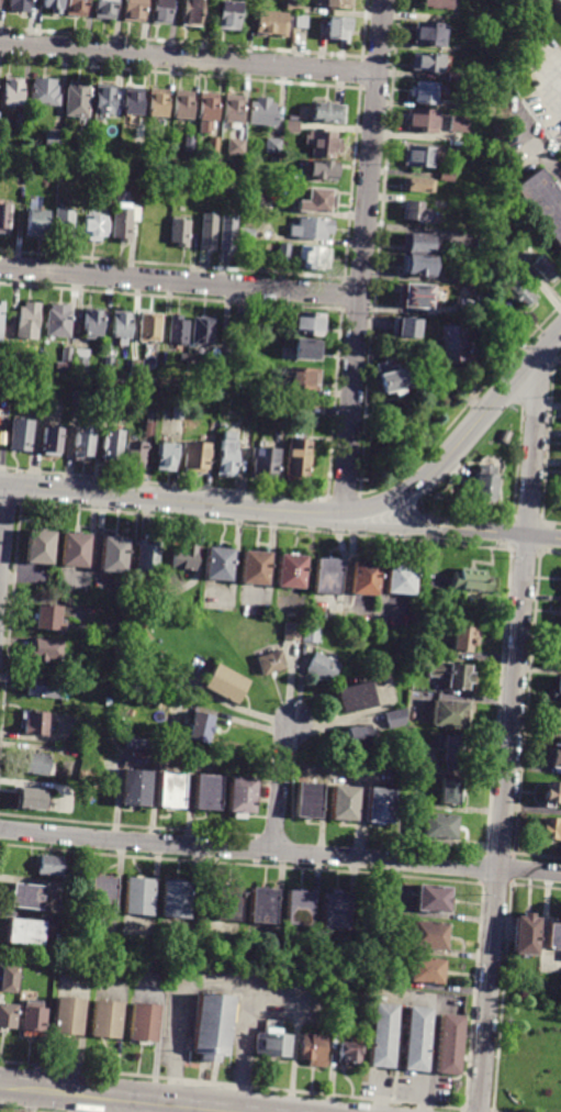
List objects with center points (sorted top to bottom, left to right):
building: (560, 0)
building: (334, 4)
building: (437, 4)
building: (53, 5)
building: (289, 5)
building: (20, 7)
building: (77, 8)
building: (104, 9)
building: (133, 10)
building: (160, 12)
building: (190, 13)
building: (229, 15)
building: (278, 23)
building: (339, 31)
building: (429, 35)
road: (188, 58)
building: (429, 65)
building: (455, 77)
building: (12, 92)
building: (45, 93)
building: (425, 94)
building: (78, 100)
building: (103, 100)
building: (158, 102)
building: (132, 103)
building: (182, 103)
building: (453, 105)
road: (550, 107)
building: (233, 108)
building: (262, 111)
building: (207, 112)
building: (330, 112)
building: (291, 118)
building: (21, 122)
building: (423, 122)
building: (458, 124)
building: (292, 126)
building: (53, 138)
building: (326, 142)
building: (188, 143)
building: (83, 144)
building: (214, 145)
building: (272, 146)
building: (235, 147)
building: (453, 152)
building: (419, 158)
building: (273, 159)
road: (552, 166)
building: (323, 169)
building: (448, 178)
building: (419, 187)
building: (110, 189)
building: (194, 190)
building: (122, 194)
building: (250, 201)
building: (318, 201)
building: (542, 203)
building: (441, 205)
building: (417, 213)
building: (4, 218)
building: (36, 223)
building: (66, 223)
building: (123, 223)
building: (96, 227)
building: (312, 229)
building: (181, 231)
building: (209, 232)
building: (247, 233)
building: (228, 234)
building: (485, 244)
building: (420, 245)
building: (283, 252)
road: (361, 256)
building: (314, 258)
building: (416, 265)
building: (542, 269)
road: (179, 281)
building: (414, 296)
building: (518, 296)
building: (482, 307)
building: (1, 318)
building: (30, 320)
building: (60, 320)
building: (92, 324)
building: (311, 325)
building: (503, 325)
building: (122, 326)
building: (240, 326)
building: (473, 326)
building: (407, 327)
building: (152, 329)
building: (179, 330)
building: (203, 332)
building: (453, 345)
building: (308, 349)
building: (65, 357)
building: (81, 360)
building: (109, 365)
building: (135, 367)
building: (391, 378)
building: (304, 379)
building: (263, 388)
building: (78, 398)
building: (105, 401)
building: (3, 403)
building: (296, 410)
building: (177, 412)
road: (482, 415)
building: (149, 425)
building: (20, 434)
building: (51, 442)
building: (82, 442)
building: (111, 446)
building: (226, 456)
building: (135, 457)
building: (165, 457)
building: (194, 457)
building: (295, 462)
building: (263, 464)
building: (482, 485)
road: (148, 497)
road: (369, 505)
road: (408, 512)
road: (311, 513)
road: (333, 513)
road: (372, 526)
road: (493, 532)
road: (3, 533)
building: (36, 546)
building: (75, 549)
building: (113, 554)
building: (146, 557)
building: (183, 557)
building: (217, 564)
building: (254, 568)
building: (290, 571)
building: (327, 577)
building: (363, 579)
building: (400, 579)
building: (470, 581)
building: (154, 602)
building: (558, 609)
building: (47, 618)
building: (560, 622)
building: (291, 632)
building: (308, 634)
building: (462, 638)
building: (558, 649)
building: (47, 650)
building: (271, 663)
building: (322, 667)
building: (451, 674)
building: (223, 682)
building: (46, 687)
building: (557, 689)
building: (355, 697)
building: (447, 715)
building: (393, 719)
building: (556, 720)
building: (35, 722)
building: (200, 727)
road: (509, 734)
building: (357, 735)
building: (139, 740)
building: (449, 750)
building: (554, 756)
building: (35, 764)
road: (277, 781)
building: (134, 788)
building: (171, 789)
building: (448, 791)
building: (207, 792)
building: (240, 794)
building: (552, 794)
building: (31, 799)
building: (308, 800)
building: (345, 803)
building: (381, 805)
building: (437, 825)
building: (548, 830)
road: (280, 852)
building: (49, 865)
building: (103, 894)
building: (25, 896)
building: (137, 897)
building: (433, 898)
building: (175, 899)
building: (227, 902)
building: (262, 905)
building: (300, 909)
building: (335, 911)
building: (24, 932)
building: (526, 934)
building: (428, 935)
building: (553, 936)
building: (426, 970)
building: (8, 979)
building: (343, 1001)
building: (5, 1016)
building: (66, 1016)
building: (104, 1019)
building: (31, 1022)
building: (141, 1024)
building: (214, 1025)
building: (383, 1035)
building: (417, 1038)
building: (270, 1043)
building: (450, 1045)
building: (349, 1049)
building: (312, 1050)
road: (132, 1098)
road: (31, 1100)
road: (76, 1102)
road: (143, 1105)
road: (198, 1109)

